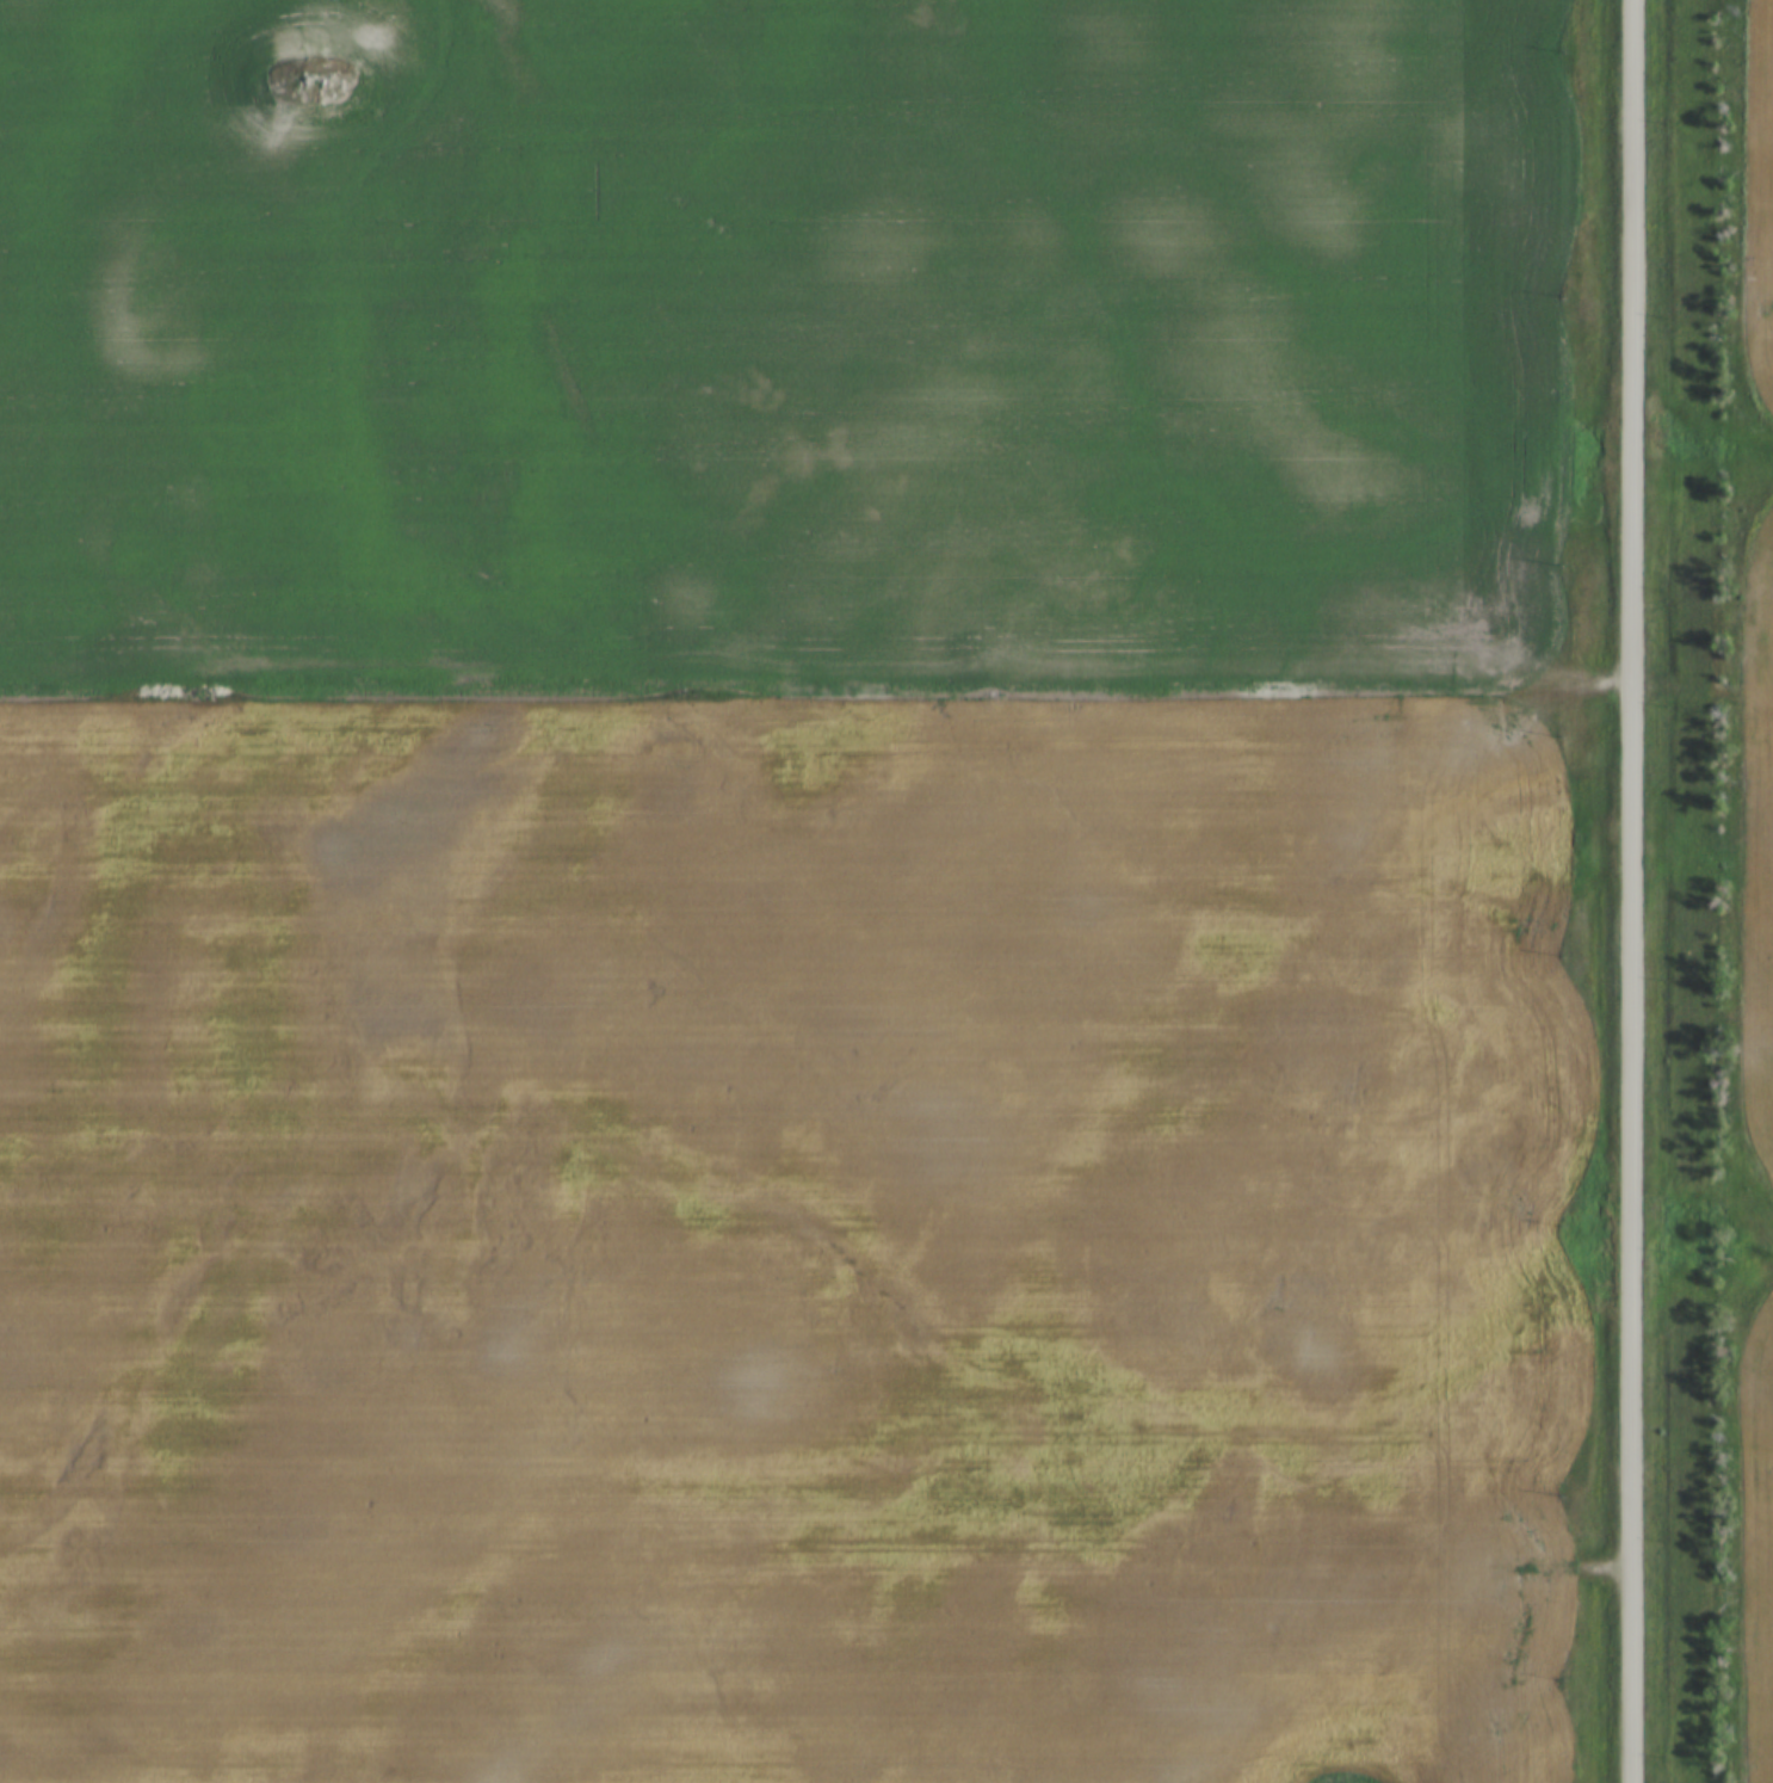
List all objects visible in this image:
road: (1633, 890)

